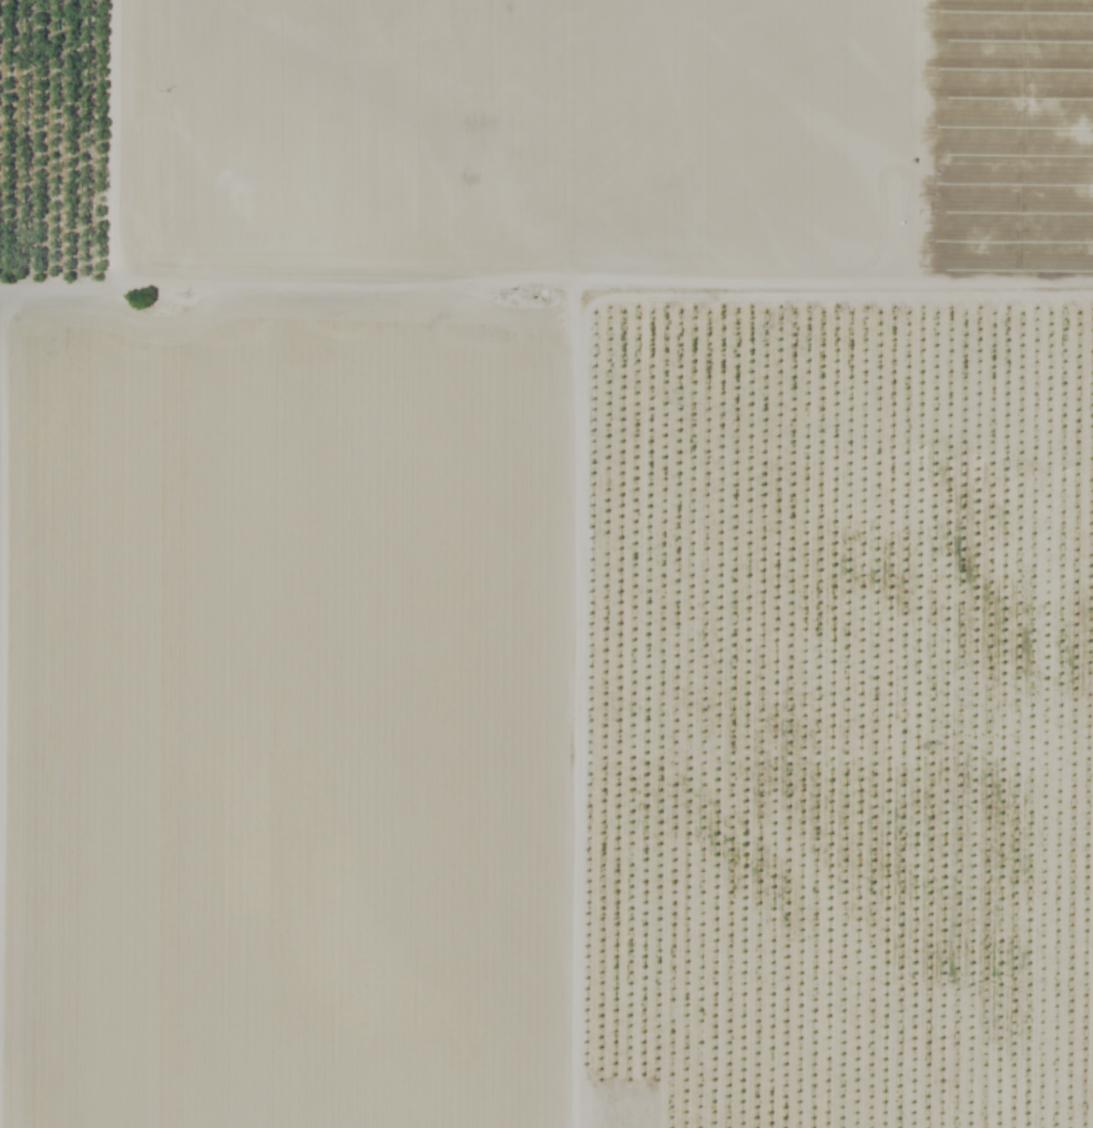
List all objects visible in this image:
road: (575, 453)
crop: (546, 563)

